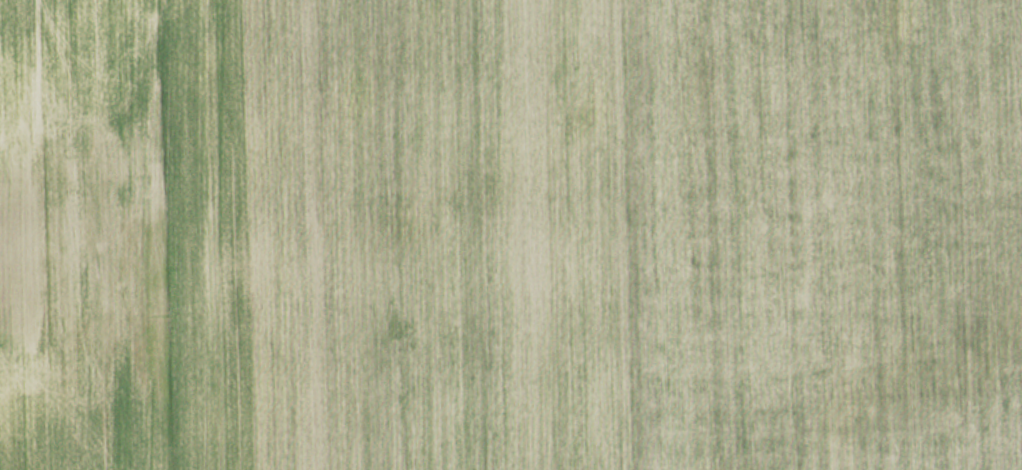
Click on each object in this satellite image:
crop: (511, 235)

